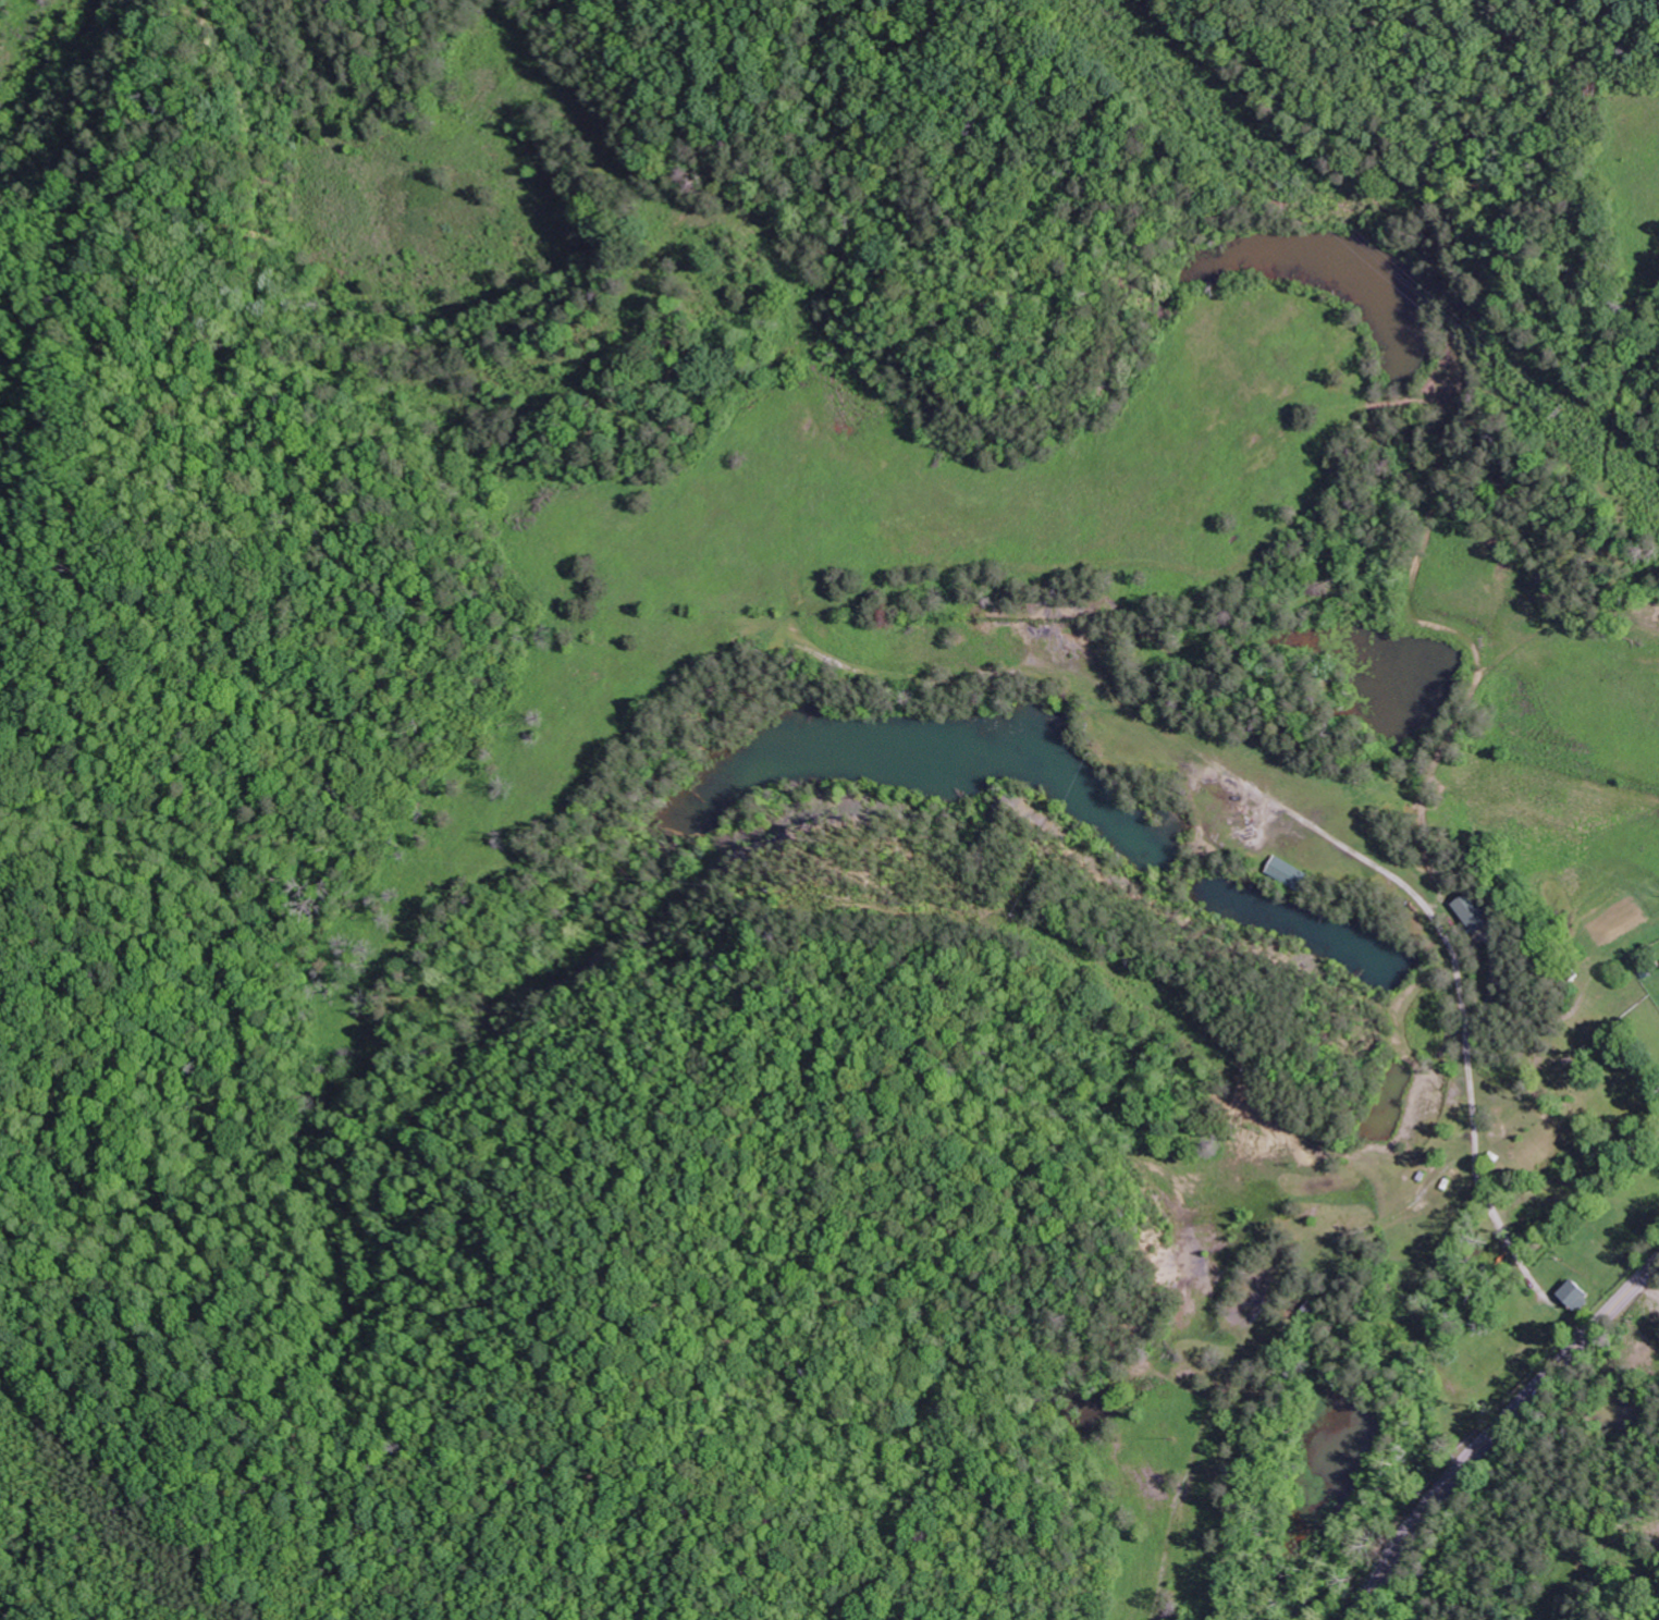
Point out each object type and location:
power tower: (1568, 410)
building: (1290, 873)
building: (1482, 912)
building: (1577, 1296)
road: (1496, 1431)

